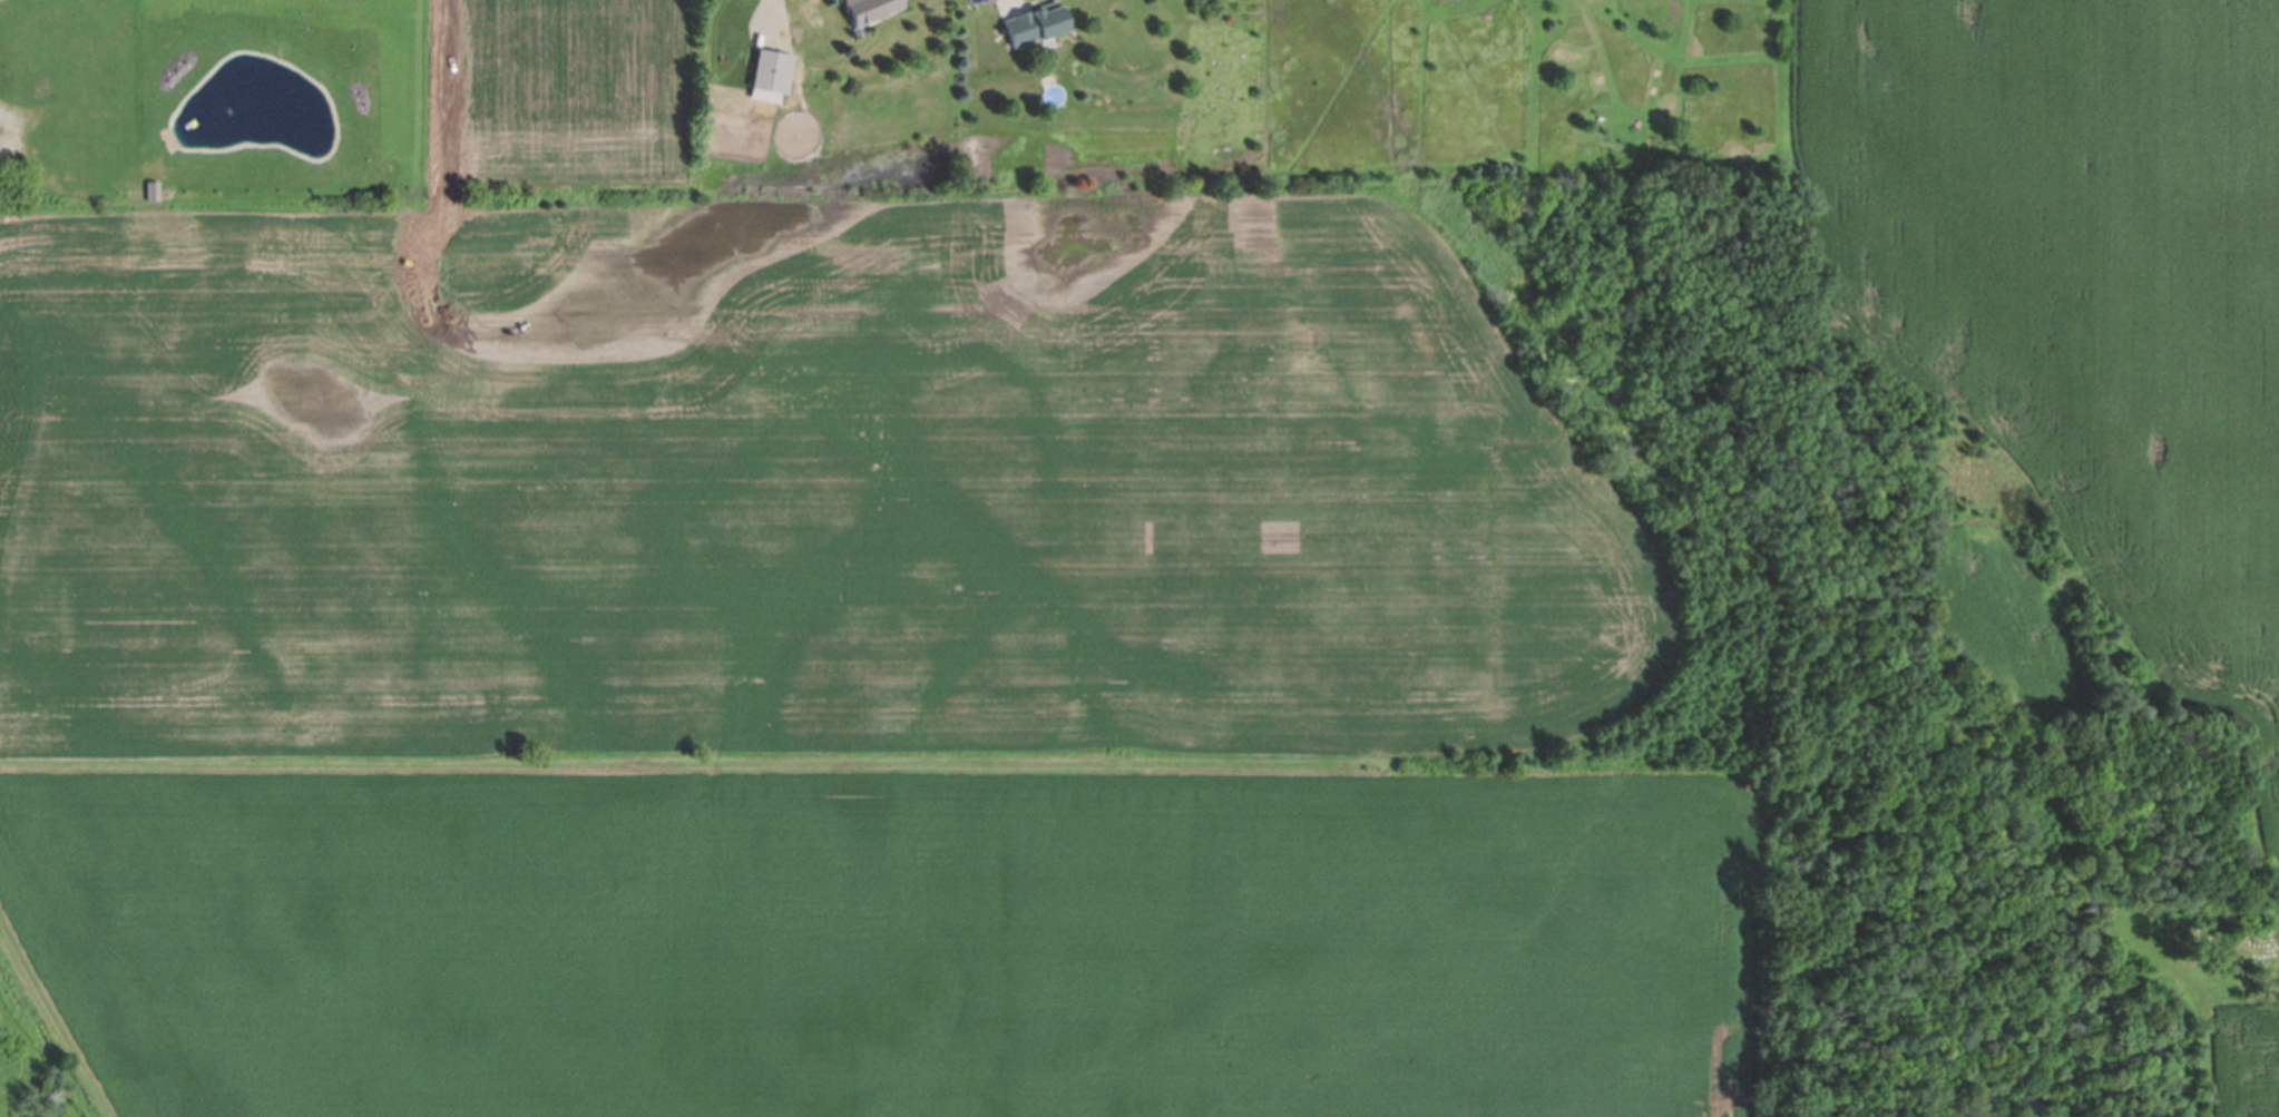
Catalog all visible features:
building: (870, 9)
building: (1035, 22)
building: (37, 47)
building: (4, 50)
building: (772, 70)
building: (3, 88)
road: (3, 120)
building: (67, 144)

